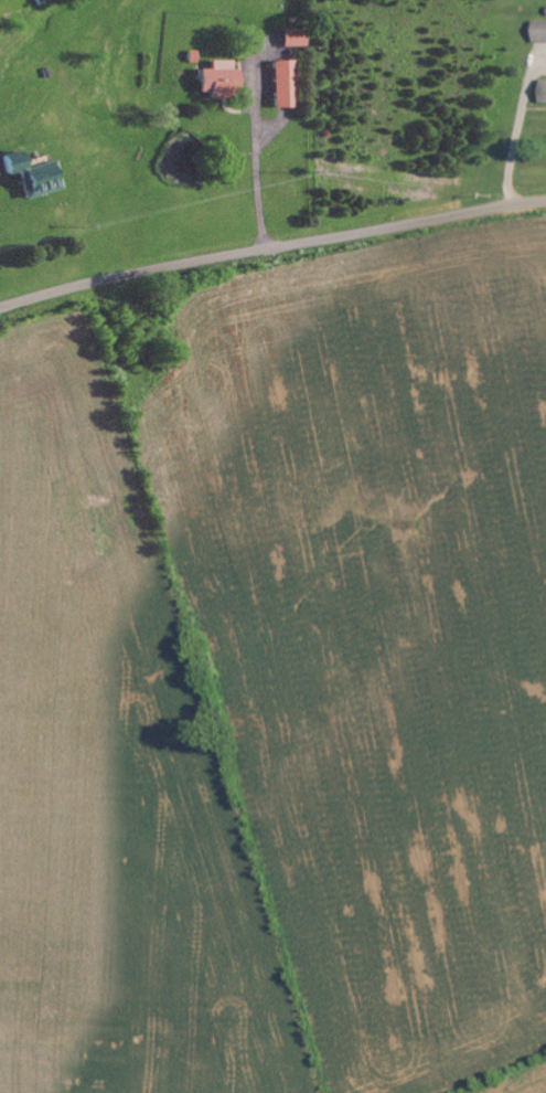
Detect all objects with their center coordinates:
building: (540, 32)
building: (297, 39)
building: (223, 79)
building: (288, 84)
building: (545, 94)
building: (38, 176)
road: (271, 246)

